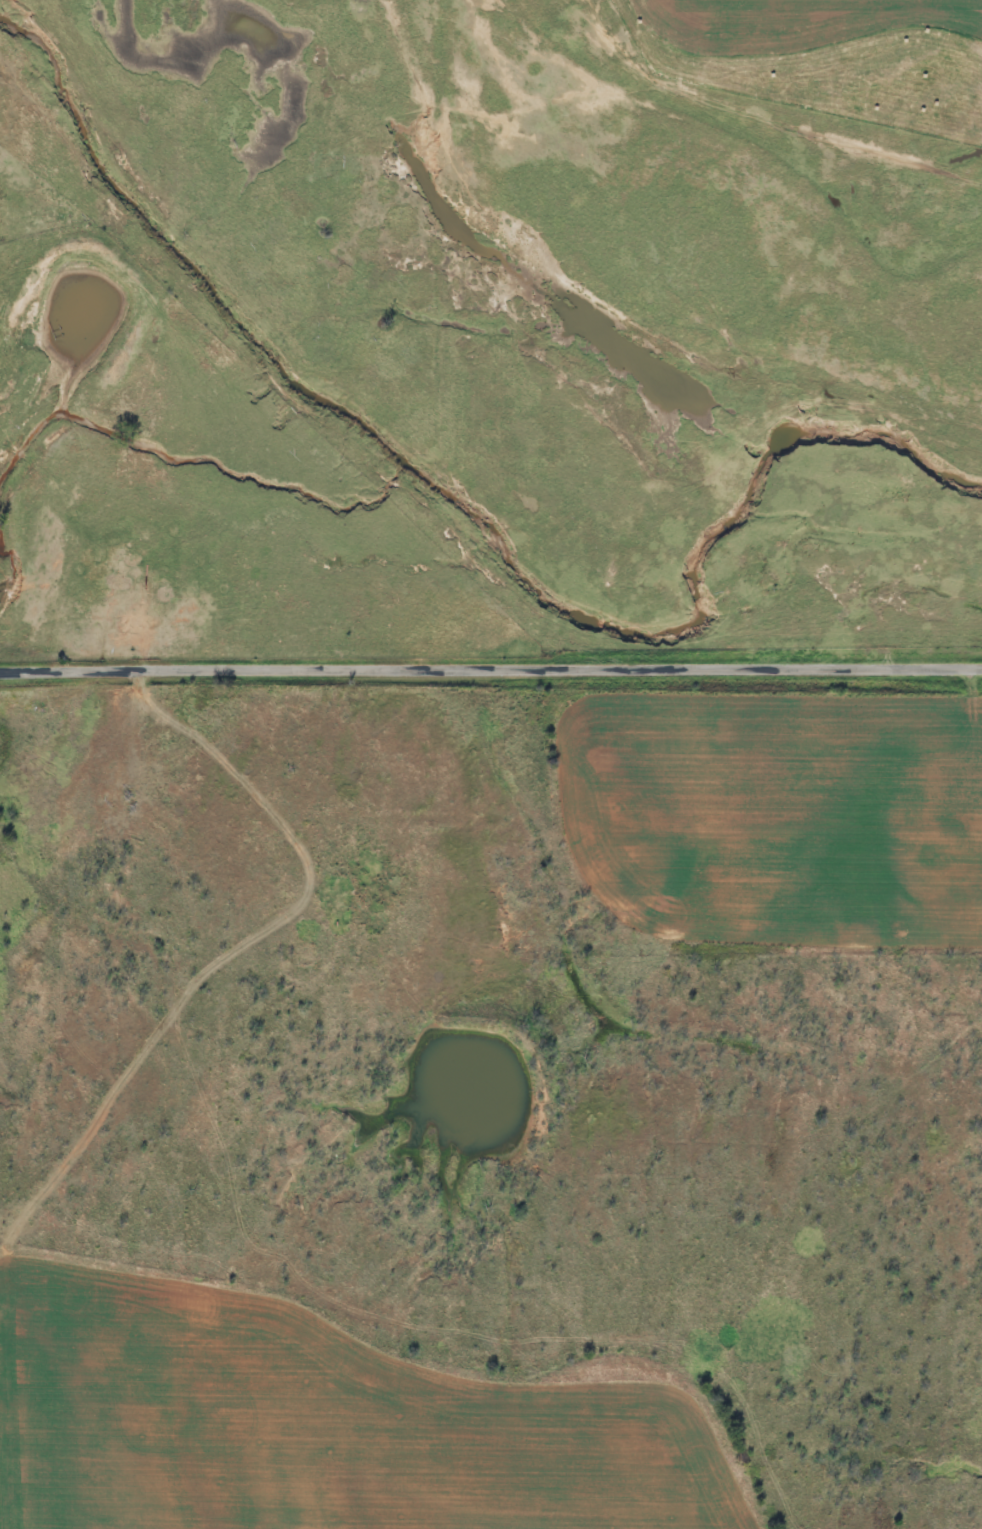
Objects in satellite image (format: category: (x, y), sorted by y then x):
road: (491, 664)

